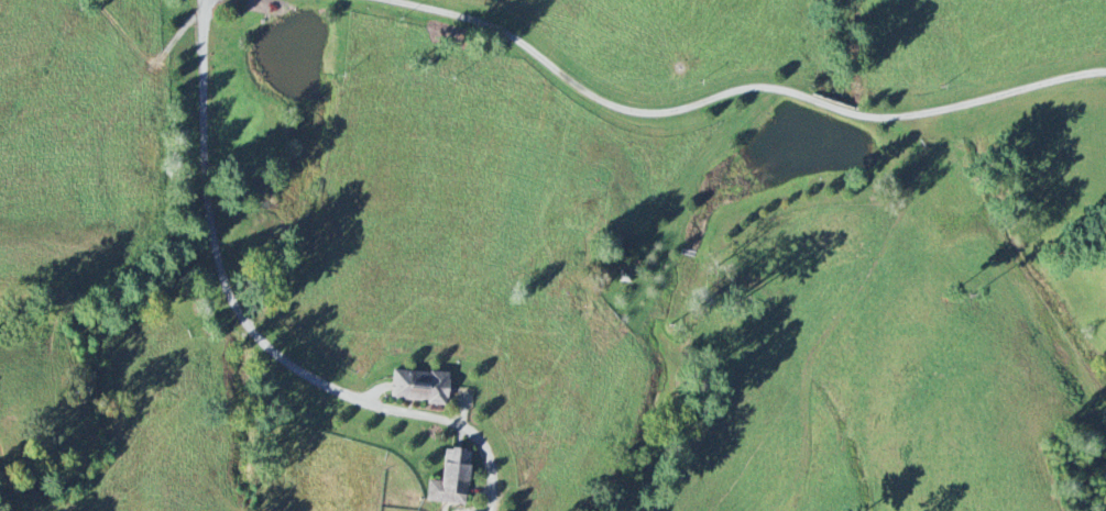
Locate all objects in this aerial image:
road: (738, 88)
road: (248, 330)
building: (418, 386)
building: (451, 478)

